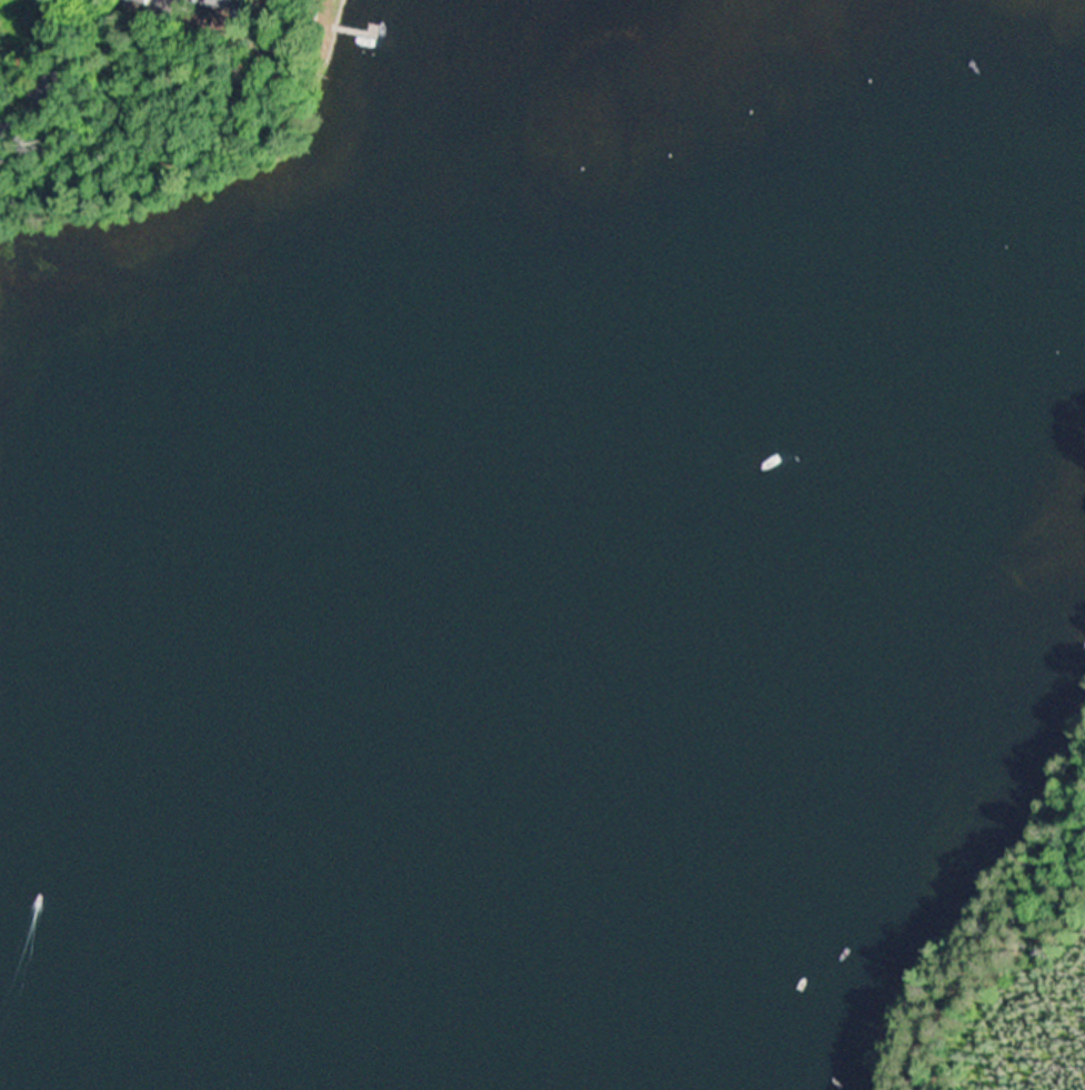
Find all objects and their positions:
road: (30, 58)

